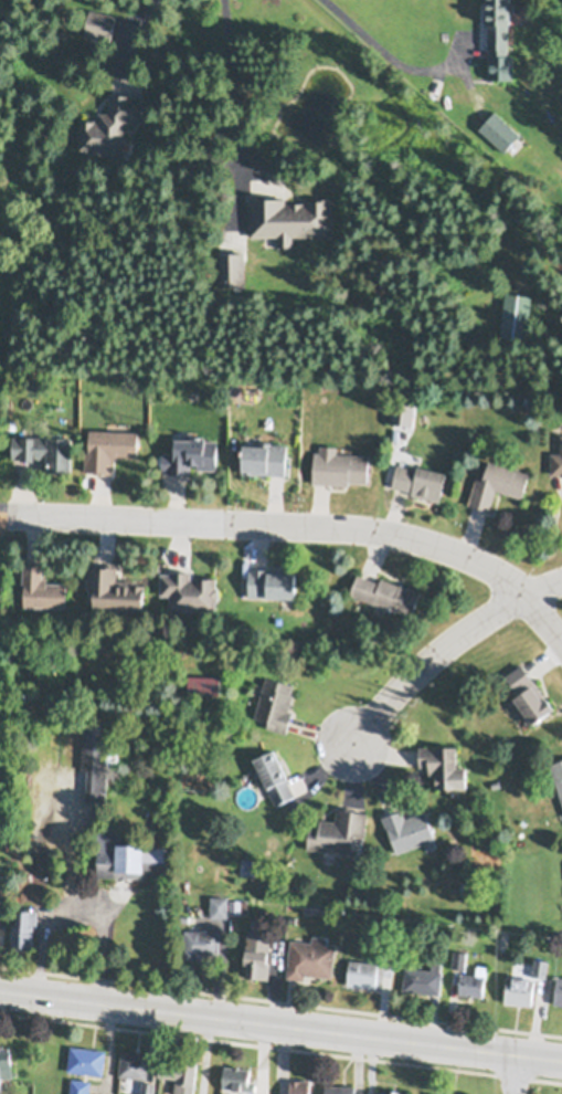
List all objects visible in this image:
building: (100, 28)
building: (498, 28)
road: (393, 57)
road: (231, 85)
building: (110, 130)
building: (499, 135)
building: (289, 222)
building: (231, 272)
building: (516, 322)
building: (402, 409)
building: (11, 420)
building: (108, 443)
building: (44, 444)
building: (190, 449)
building: (264, 452)
building: (556, 456)
building: (339, 462)
building: (420, 475)
building: (497, 478)
road: (303, 528)
building: (272, 575)
building: (42, 583)
building: (115, 585)
building: (190, 585)
building: (386, 587)
road: (543, 589)
road: (431, 661)
building: (202, 679)
building: (529, 687)
building: (275, 699)
building: (96, 753)
building: (443, 760)
building: (274, 770)
building: (558, 771)
building: (407, 825)
building: (338, 827)
building: (128, 853)
building: (253, 861)
building: (1, 880)
road: (40, 900)
building: (218, 903)
building: (244, 903)
building: (235, 904)
building: (24, 923)
road: (99, 930)
building: (200, 939)
building: (443, 945)
building: (257, 950)
building: (309, 955)
building: (458, 957)
building: (540, 965)
building: (370, 967)
building: (423, 976)
building: (473, 979)
building: (519, 986)
building: (558, 988)
road: (280, 1027)
building: (86, 1058)
building: (6, 1061)
building: (132, 1062)
building: (181, 1071)
road: (510, 1074)
building: (236, 1075)
building: (78, 1085)
building: (298, 1085)
building: (147, 1086)
building: (339, 1087)
building: (392, 1091)
building: (448, 1093)

